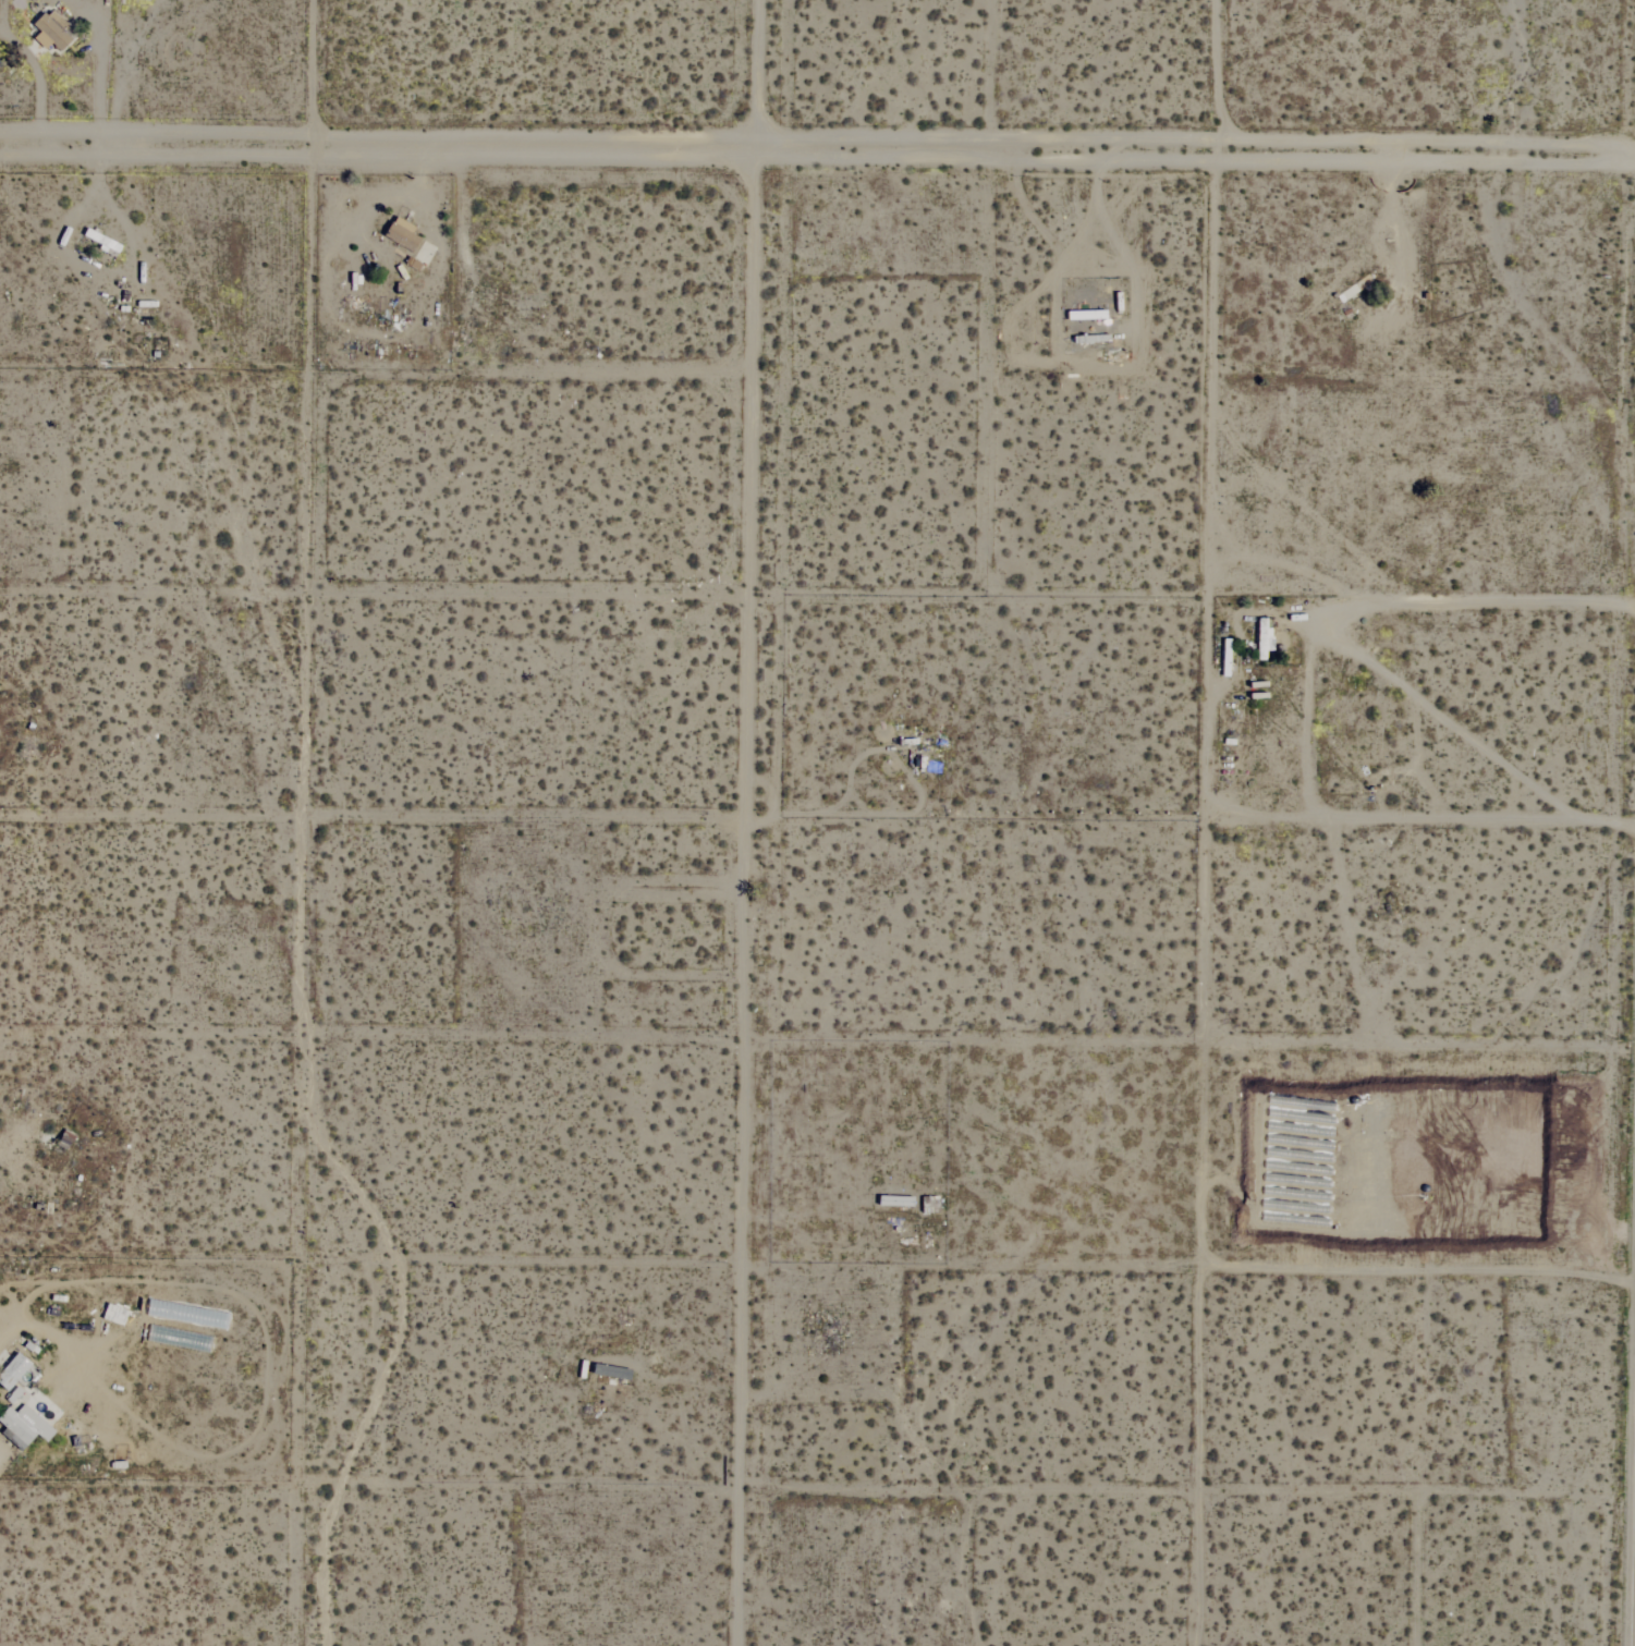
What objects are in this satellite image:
building: (50, 31)
road: (307, 71)
road: (752, 75)
road: (817, 151)
building: (410, 240)
road: (1340, 627)
building: (1261, 638)
road: (1207, 691)
road: (1303, 714)
road: (741, 898)
road: (3, 1338)
building: (13, 1371)
building: (28, 1417)

